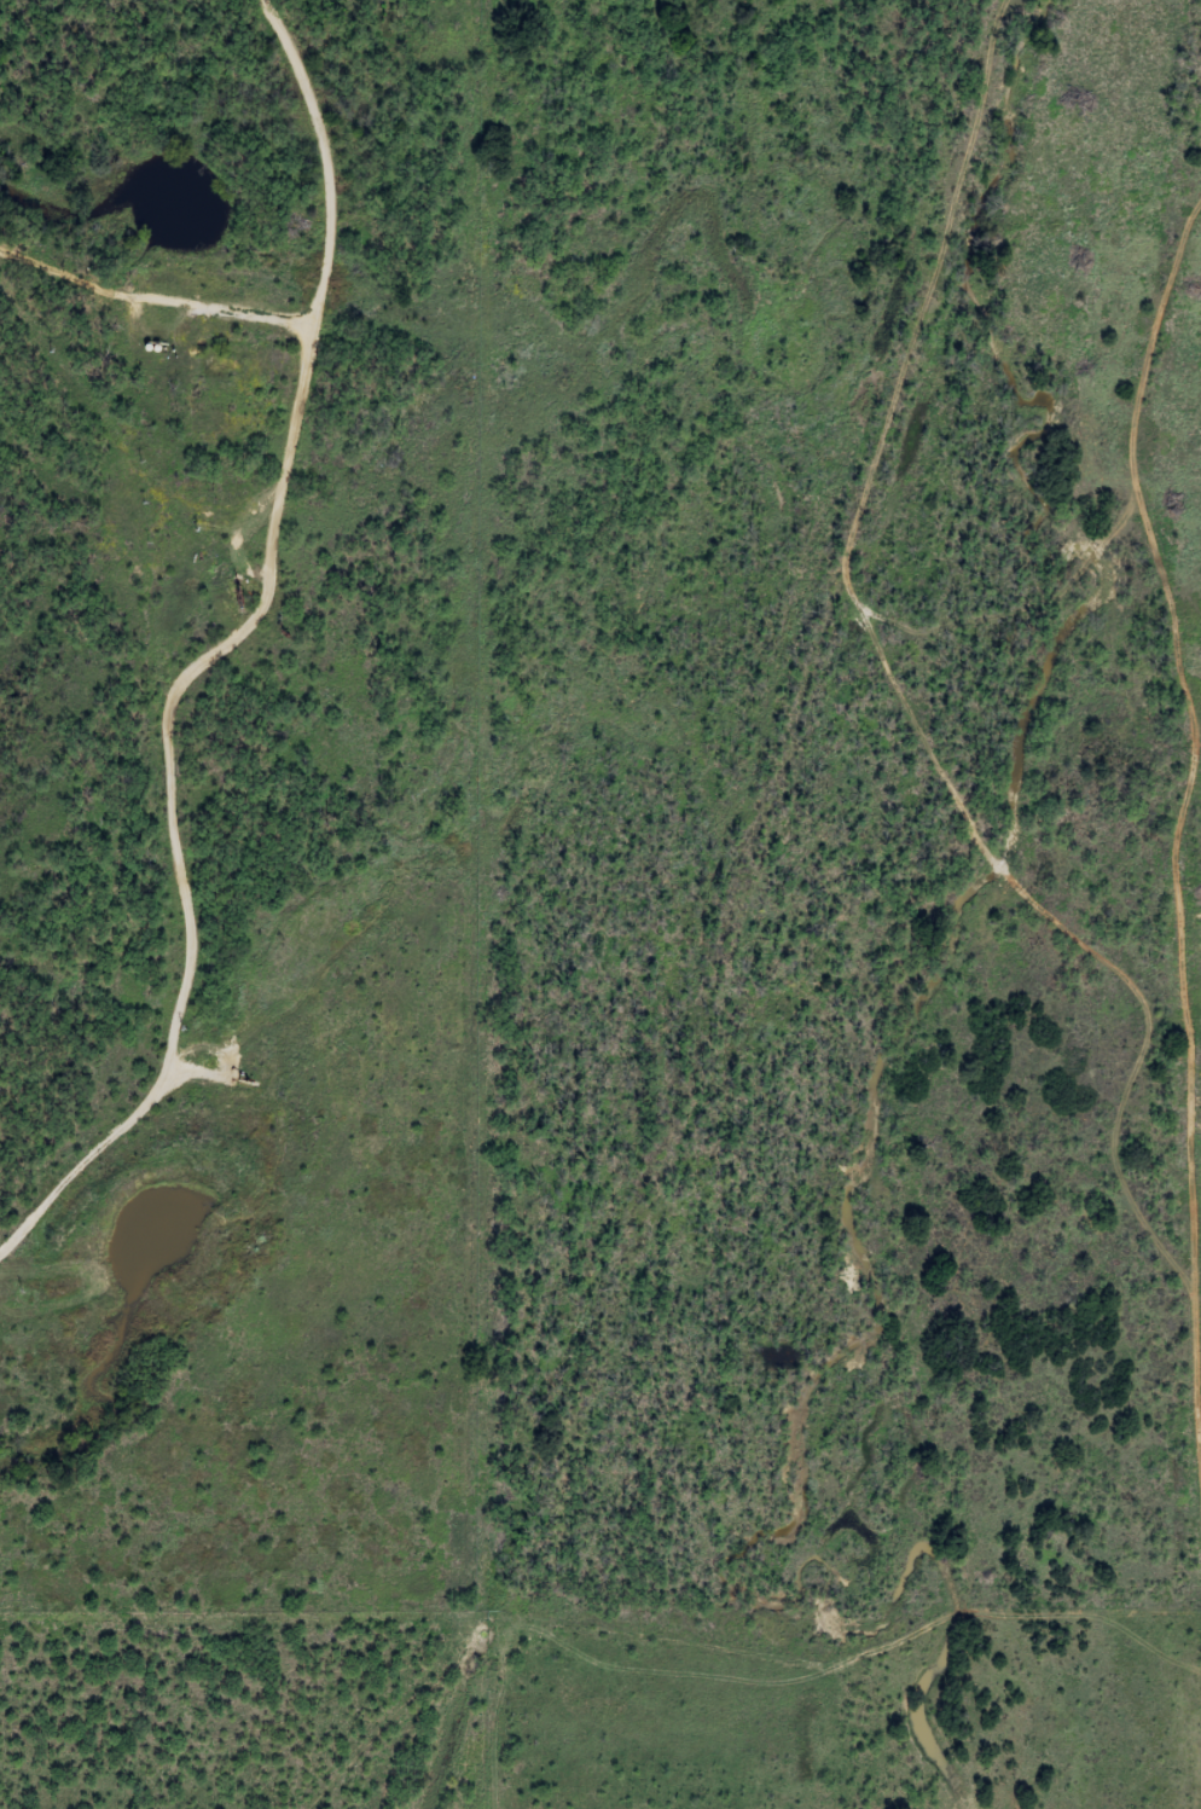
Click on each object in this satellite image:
road: (967, 240)

